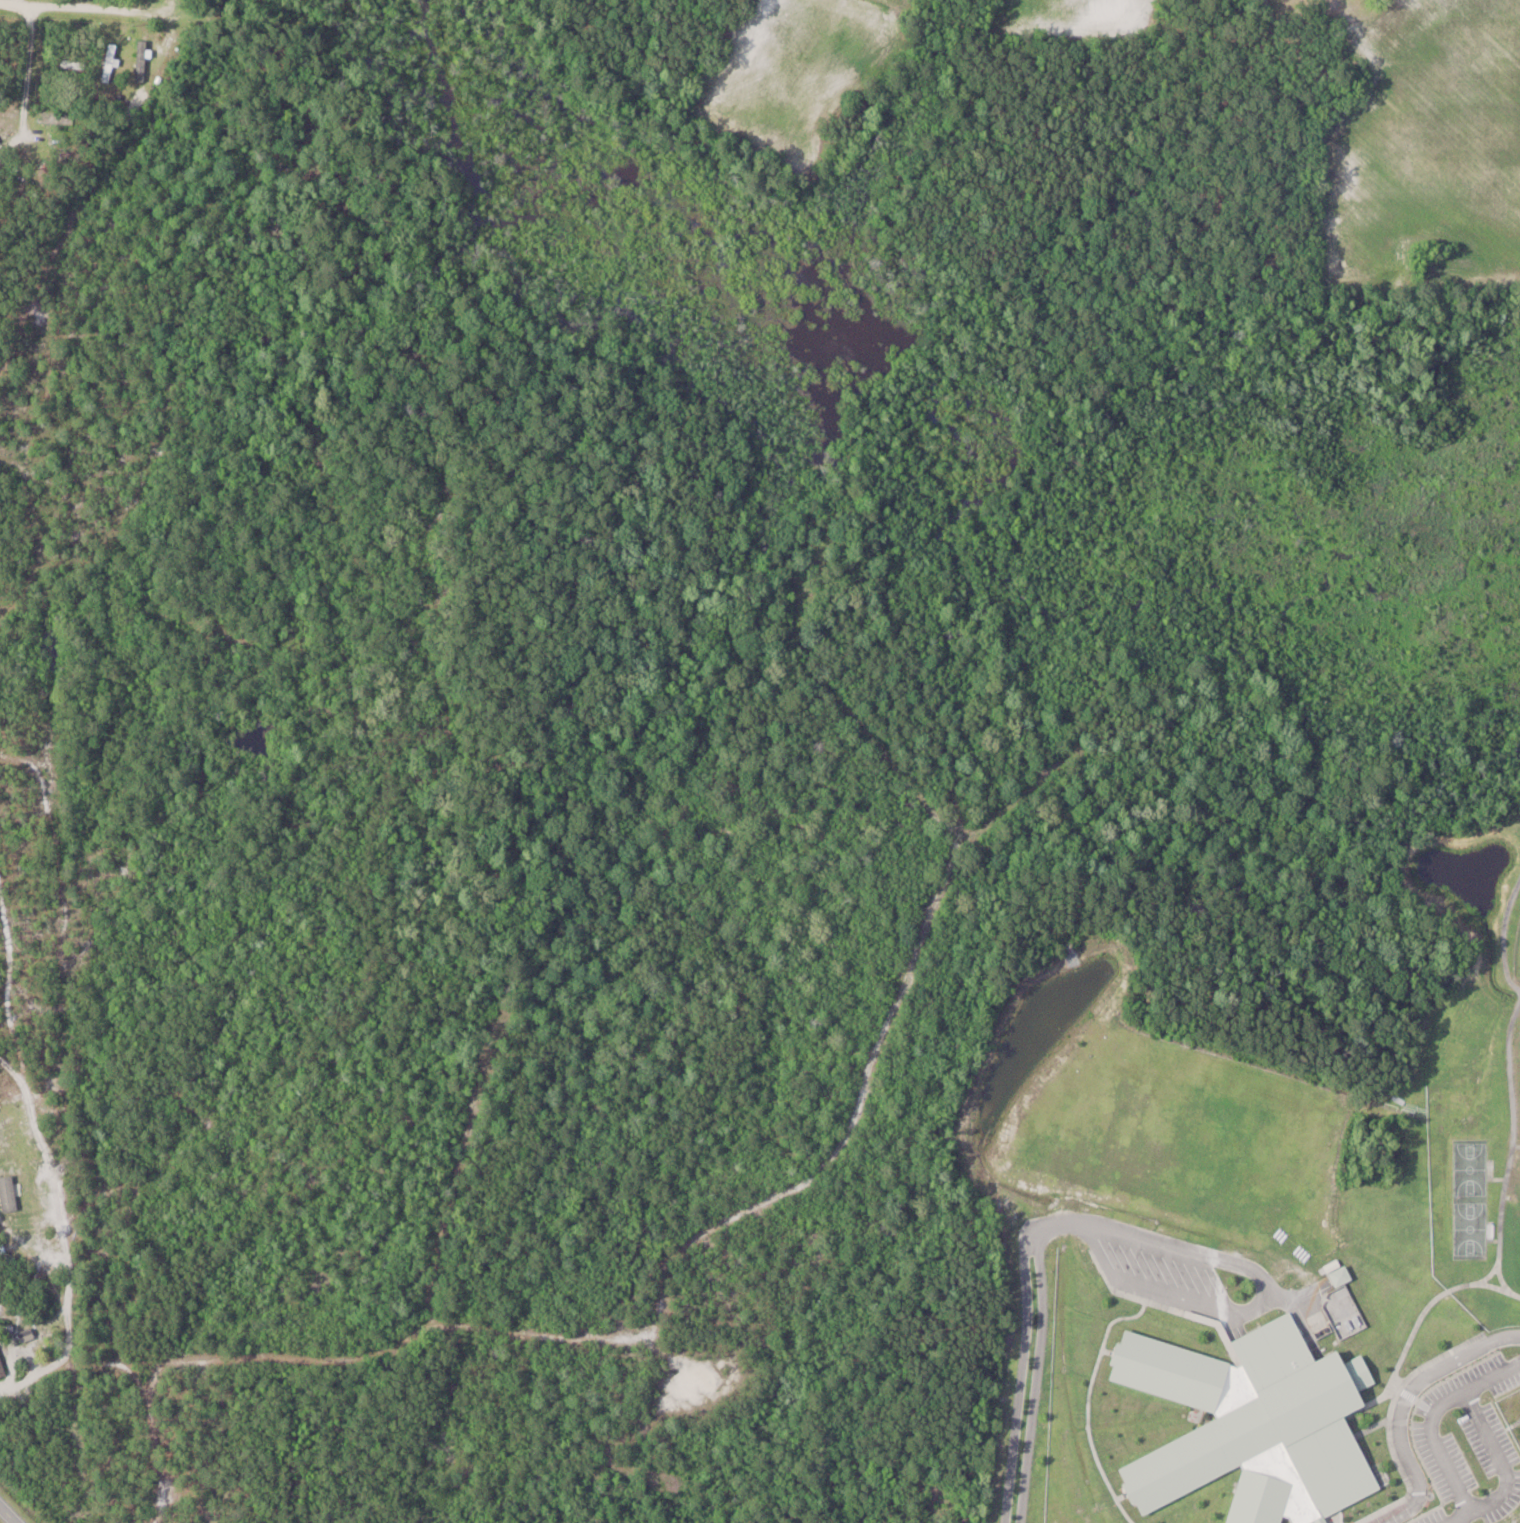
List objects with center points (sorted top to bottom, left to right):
road: (106, 9)
building: (147, 65)
road: (27, 74)
building: (0, 142)
park: (1515, 946)
building: (9, 1193)
road: (1059, 1220)
road: (74, 1284)
road: (1252, 1304)
building: (1, 1361)
road: (1030, 1371)
road: (1015, 1375)
parking lot: (1458, 1382)
parking lot: (1506, 1385)
building: (1256, 1426)
road: (1436, 1442)
road: (1490, 1443)
parking lot: (1467, 1450)
parking lot: (1515, 1493)
building: (942, 1496)
road: (9, 1513)
parking lot: (1436, 1517)

